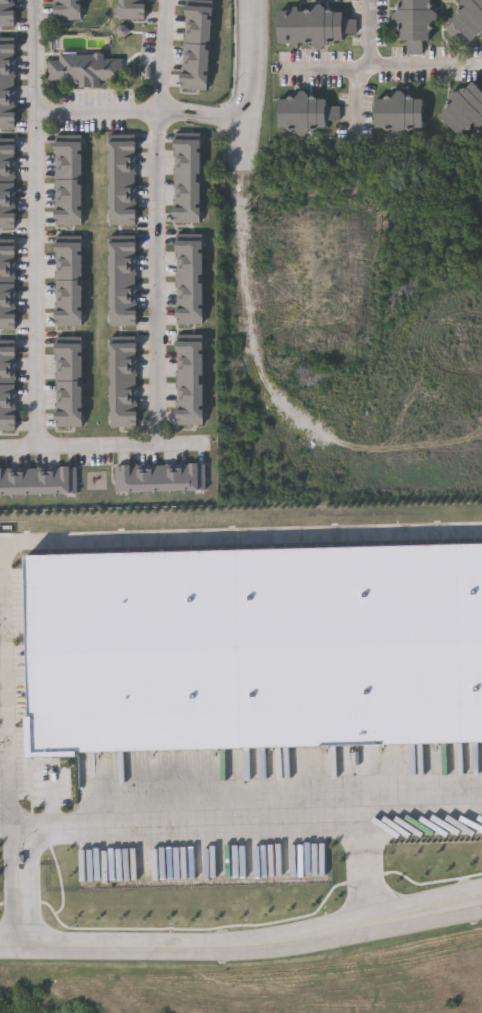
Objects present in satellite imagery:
building: (299, 0)
building: (303, 1)
building: (66, 2)
building: (131, 2)
building: (7, 5)
building: (199, 7)
building: (131, 12)
building: (67, 13)
building: (7, 17)
building: (198, 22)
building: (467, 22)
building: (411, 23)
building: (310, 26)
road: (370, 33)
building: (197, 37)
building: (8, 44)
building: (196, 51)
road: (159, 56)
road: (247, 57)
building: (8, 60)
building: (195, 66)
road: (382, 67)
building: (84, 69)
building: (8, 75)
building: (194, 81)
building: (8, 90)
road: (173, 105)
building: (8, 106)
building: (462, 108)
road: (218, 110)
road: (97, 113)
building: (301, 113)
building: (396, 113)
road: (173, 118)
building: (8, 121)
road: (217, 123)
building: (190, 139)
building: (68, 140)
building: (123, 140)
road: (244, 141)
building: (7, 143)
building: (190, 154)
building: (68, 155)
building: (123, 155)
building: (7, 158)
building: (190, 169)
building: (68, 171)
building: (123, 171)
building: (7, 173)
building: (190, 185)
building: (68, 186)
building: (123, 186)
building: (7, 189)
building: (190, 200)
building: (68, 201)
building: (123, 201)
building: (7, 204)
building: (190, 215)
building: (68, 217)
building: (123, 217)
building: (7, 219)
road: (36, 223)
building: (190, 242)
building: (68, 243)
building: (123, 243)
building: (7, 246)
building: (190, 257)
building: (68, 258)
building: (123, 258)
building: (7, 261)
building: (190, 273)
building: (68, 274)
building: (123, 274)
building: (7, 276)
road: (159, 276)
building: (190, 288)
building: (68, 289)
building: (123, 289)
building: (7, 292)
building: (190, 303)
building: (68, 304)
building: (123, 304)
building: (7, 307)
building: (190, 318)
building: (68, 320)
building: (123, 320)
building: (7, 322)
building: (190, 342)
building: (68, 343)
building: (123, 343)
building: (7, 346)
building: (190, 357)
building: (68, 358)
building: (123, 358)
building: (7, 361)
building: (190, 372)
building: (68, 374)
building: (123, 374)
building: (7, 377)
building: (190, 388)
building: (68, 389)
building: (123, 389)
building: (7, 392)
building: (190, 403)
building: (68, 404)
building: (123, 404)
building: (7, 407)
building: (190, 418)
building: (68, 420)
building: (123, 420)
building: (7, 422)
road: (100, 443)
building: (183, 477)
building: (198, 477)
building: (123, 478)
building: (138, 478)
building: (153, 478)
building: (168, 478)
building: (54, 479)
building: (69, 479)
building: (1, 480)
building: (9, 480)
building: (24, 480)
building: (39, 480)
road: (44, 538)
building: (254, 647)
road: (52, 795)
building: (33, 807)
road: (366, 813)
road: (186, 827)
building: (24, 837)
road: (243, 946)

